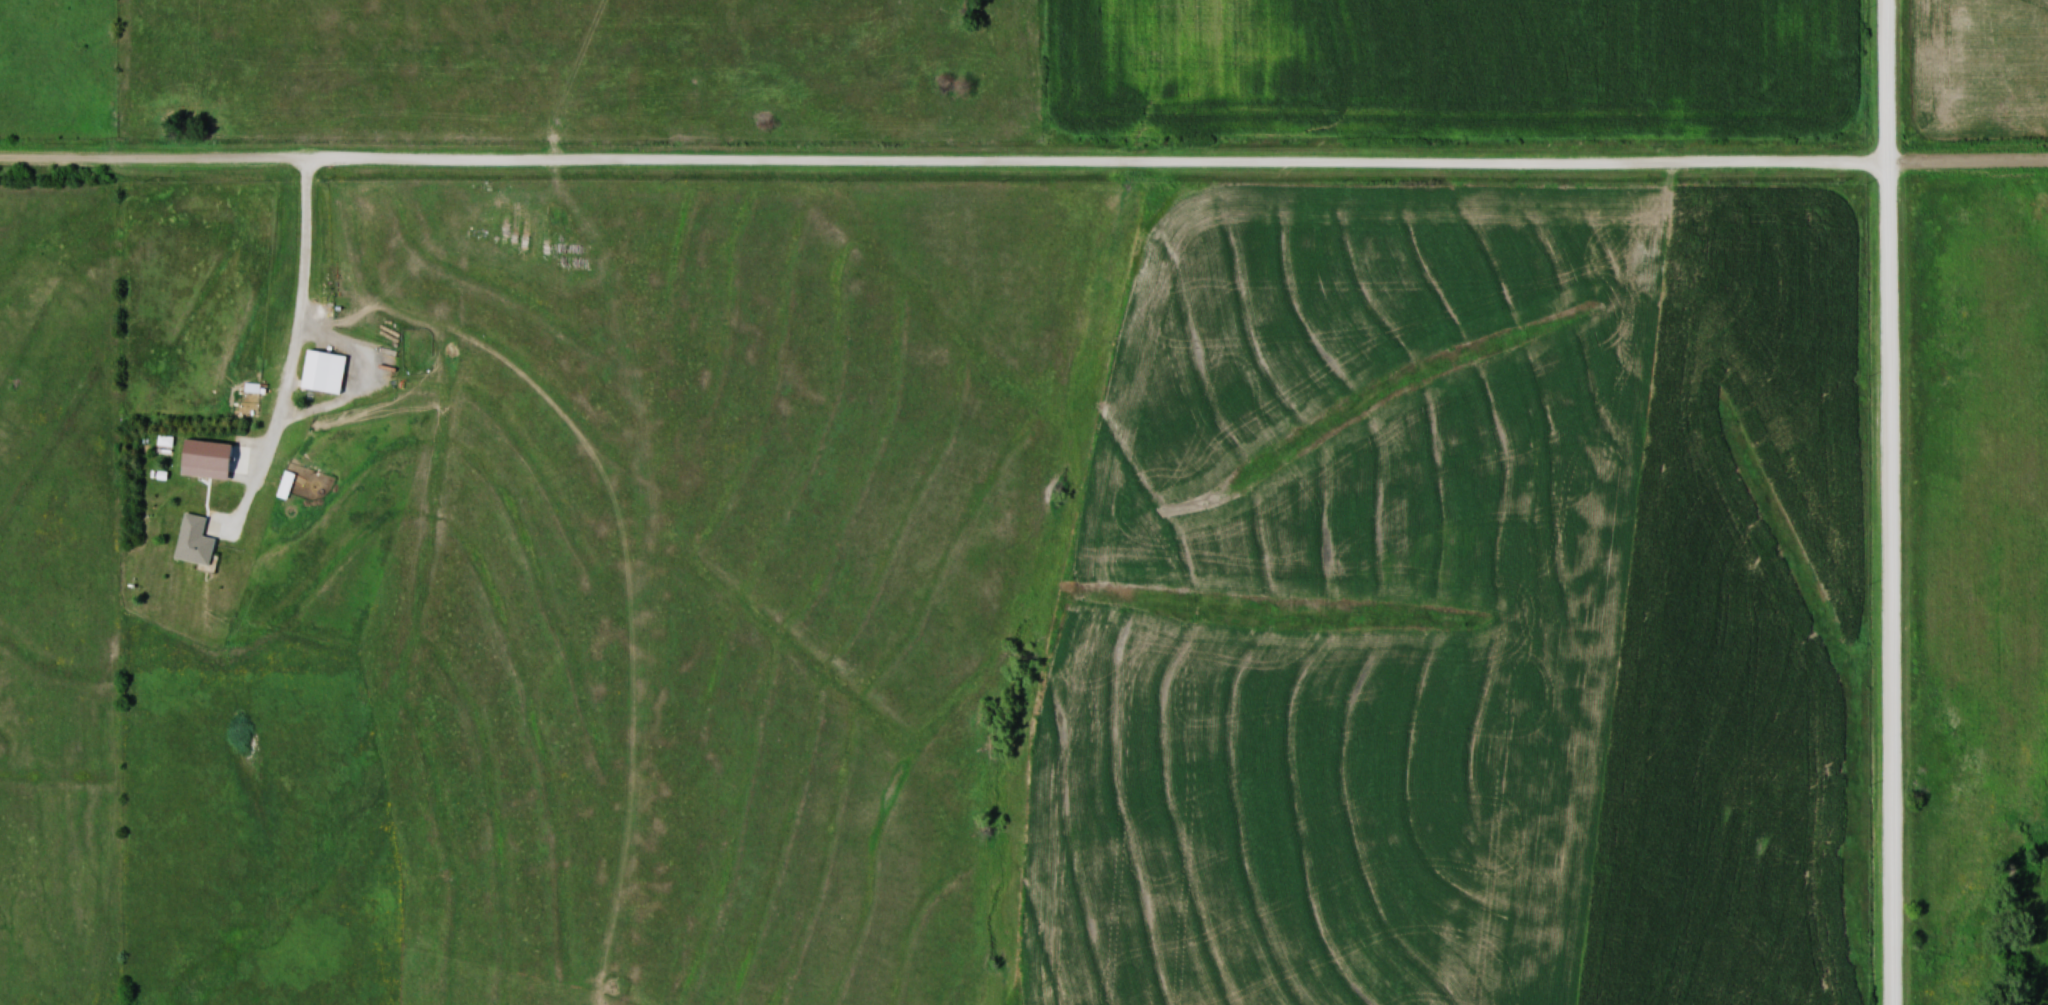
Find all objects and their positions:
road: (1024, 164)
road: (298, 348)
building: (318, 370)
road: (1895, 502)
building: (196, 540)

